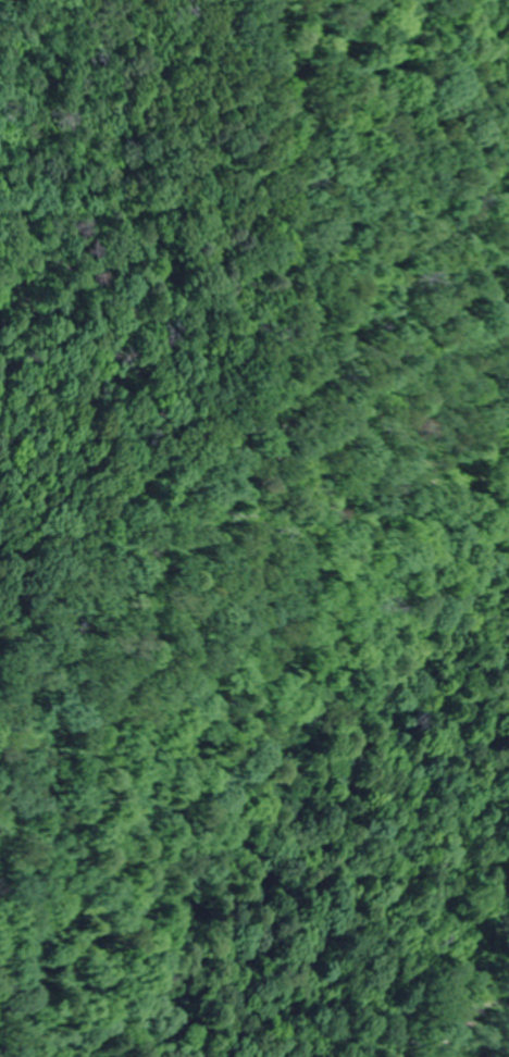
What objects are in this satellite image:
road: (182, 377)

